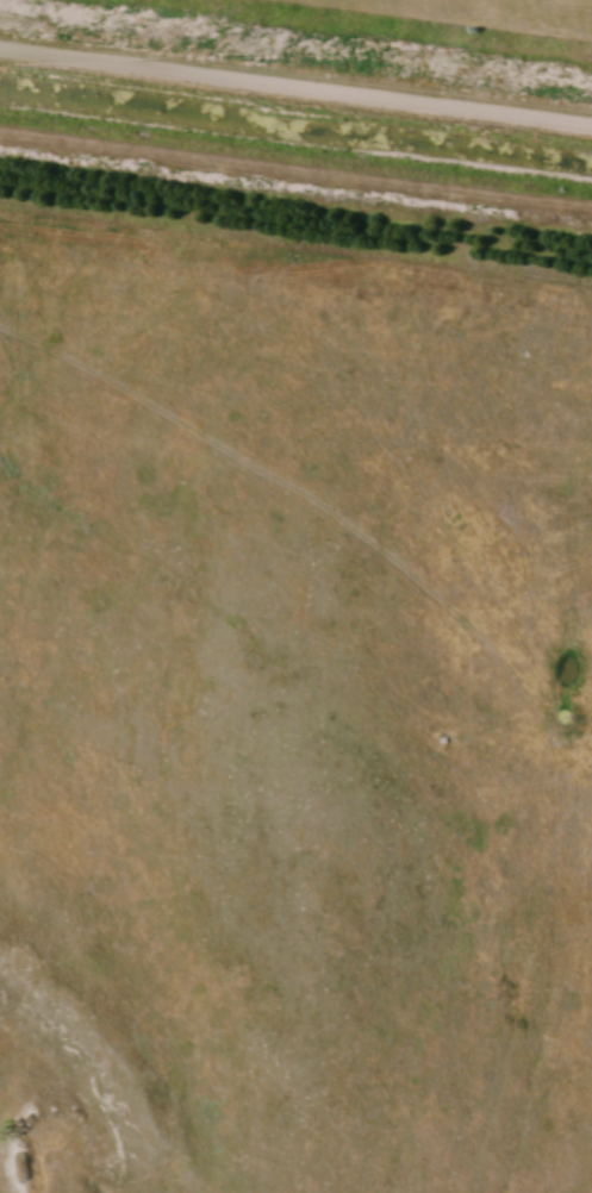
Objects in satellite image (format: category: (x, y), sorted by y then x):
road: (295, 83)

